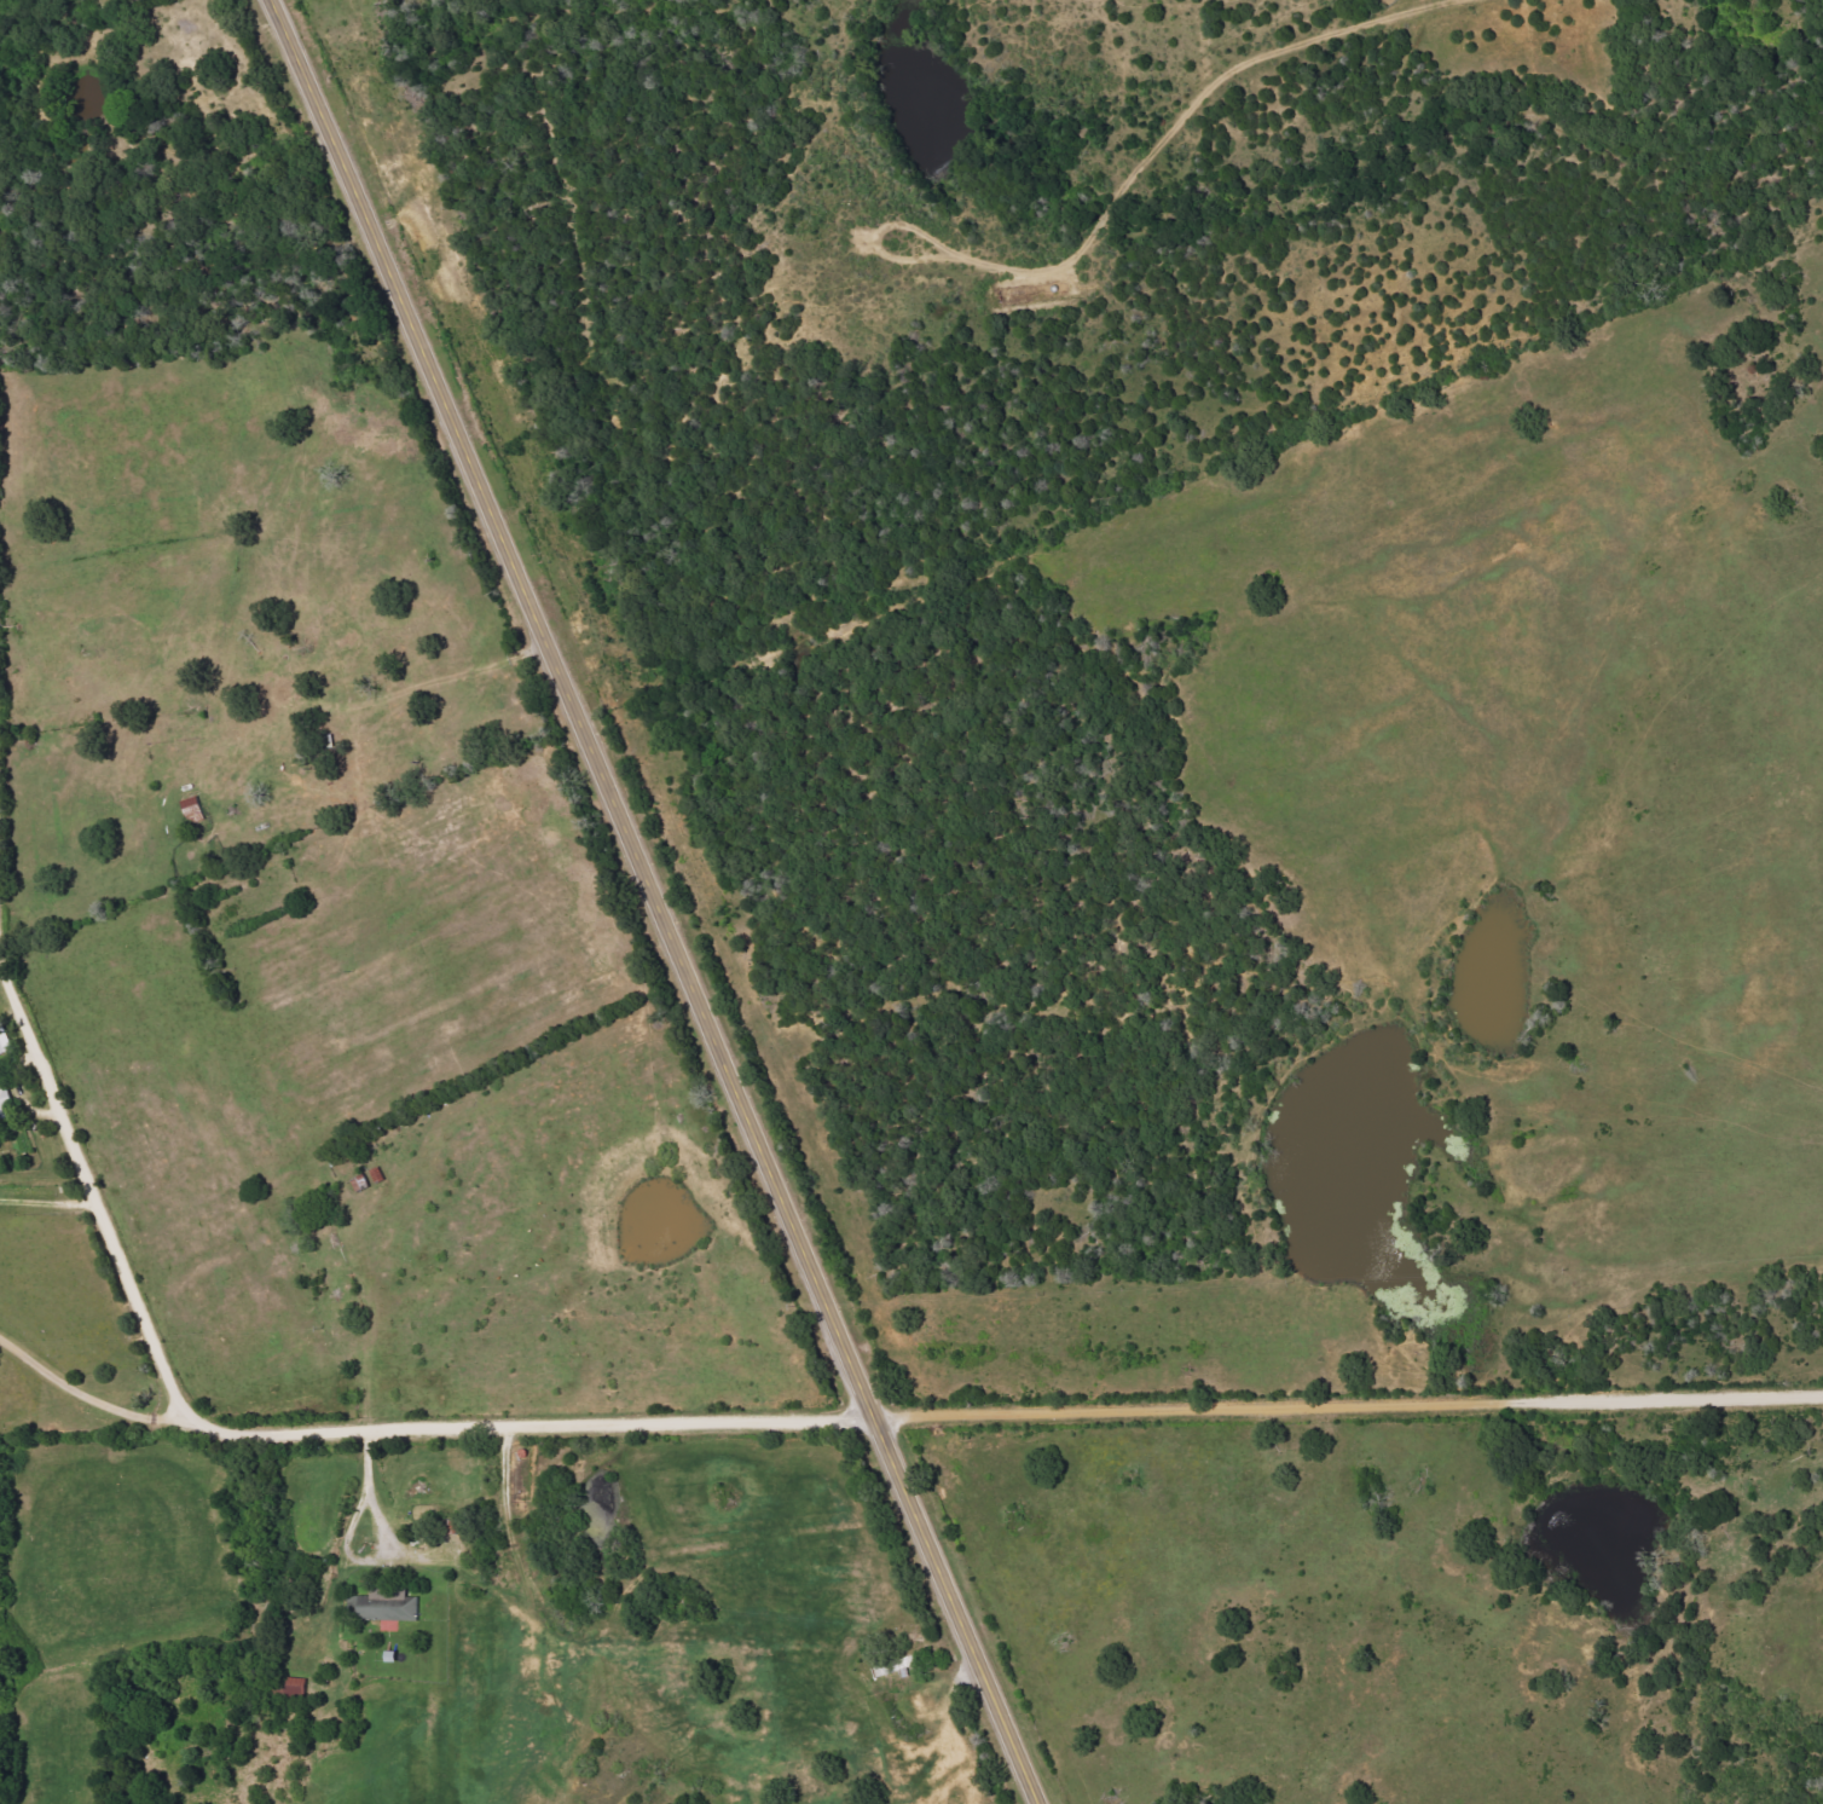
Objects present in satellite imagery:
road: (649, 902)
building: (5, 1039)
building: (5, 1104)
road: (50, 1210)
road: (86, 1395)
road: (754, 1420)
road: (343, 1544)
building: (384, 1604)
building: (896, 1665)

